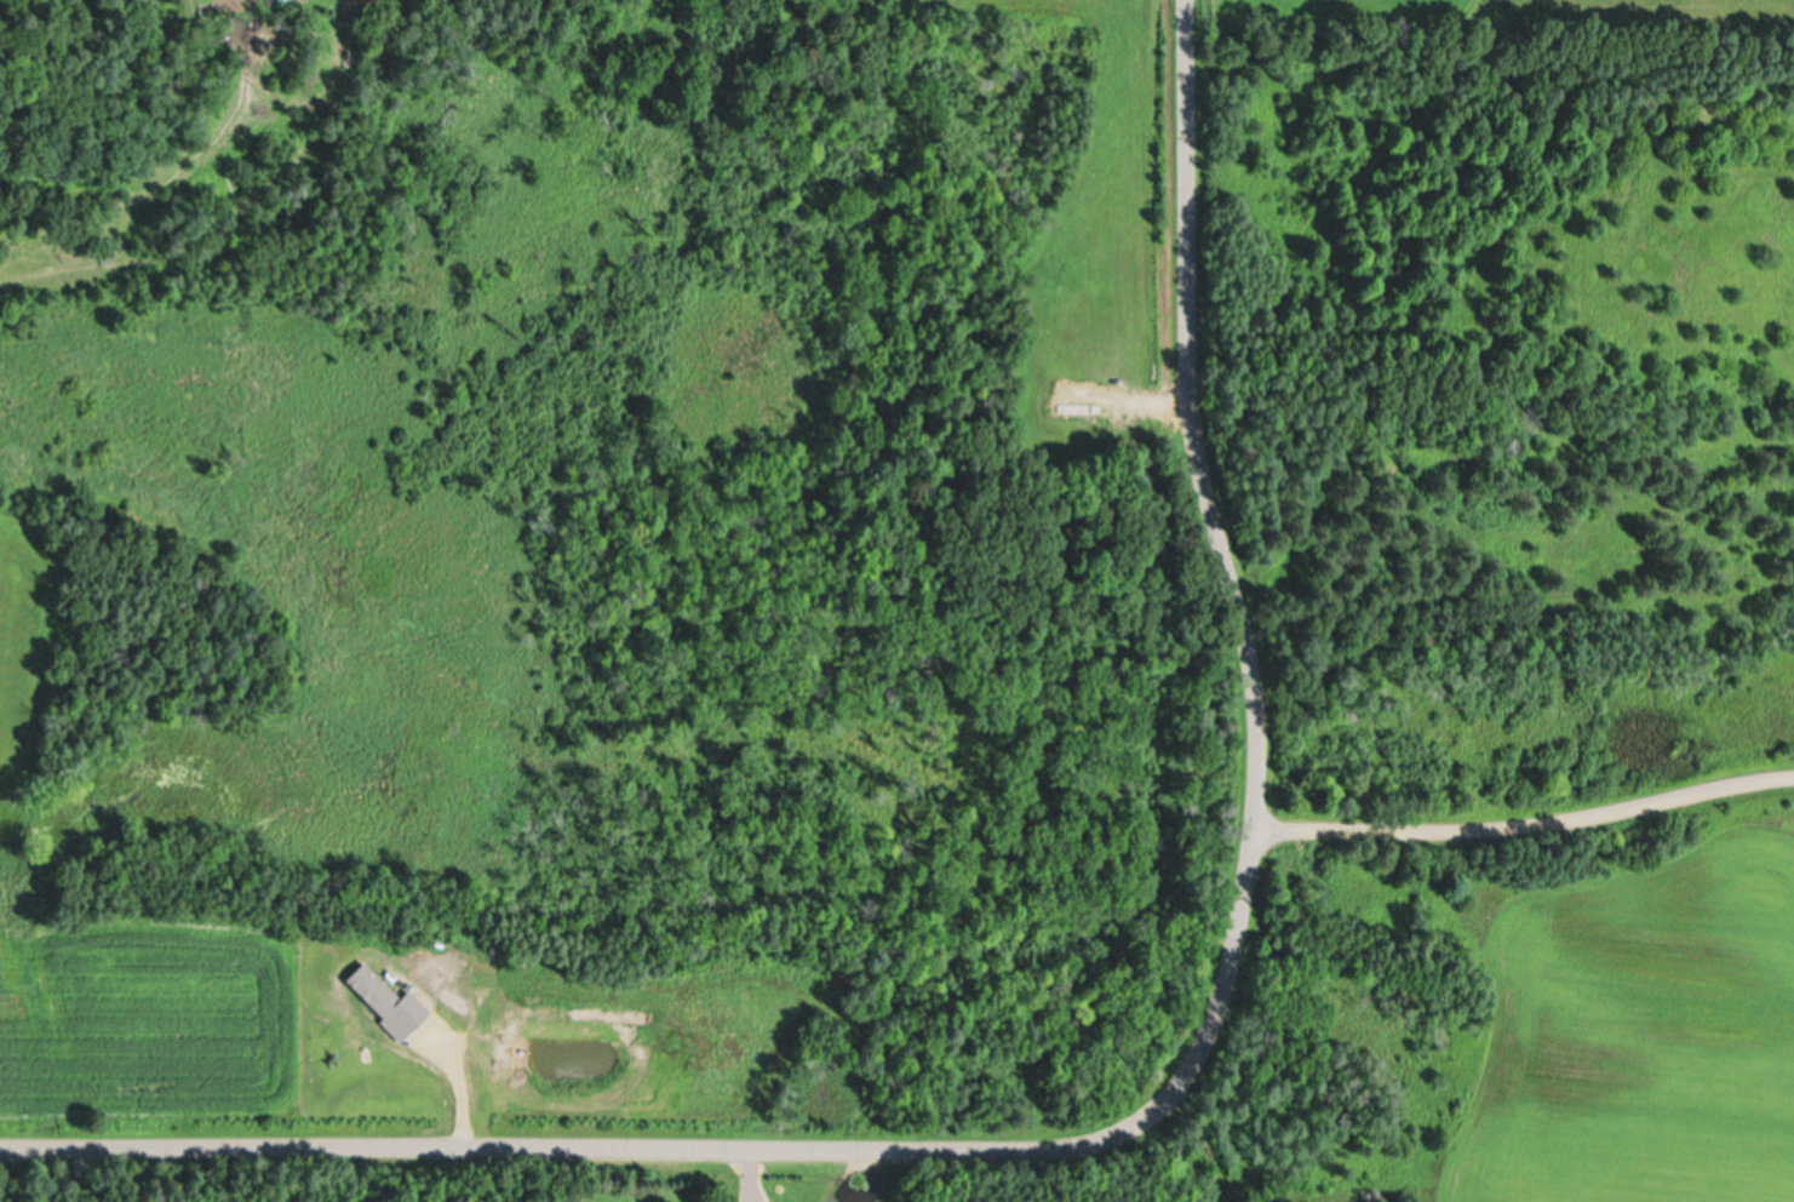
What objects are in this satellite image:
road: (1192, 414)
road: (1524, 819)
road: (1199, 1140)
road: (733, 1145)

